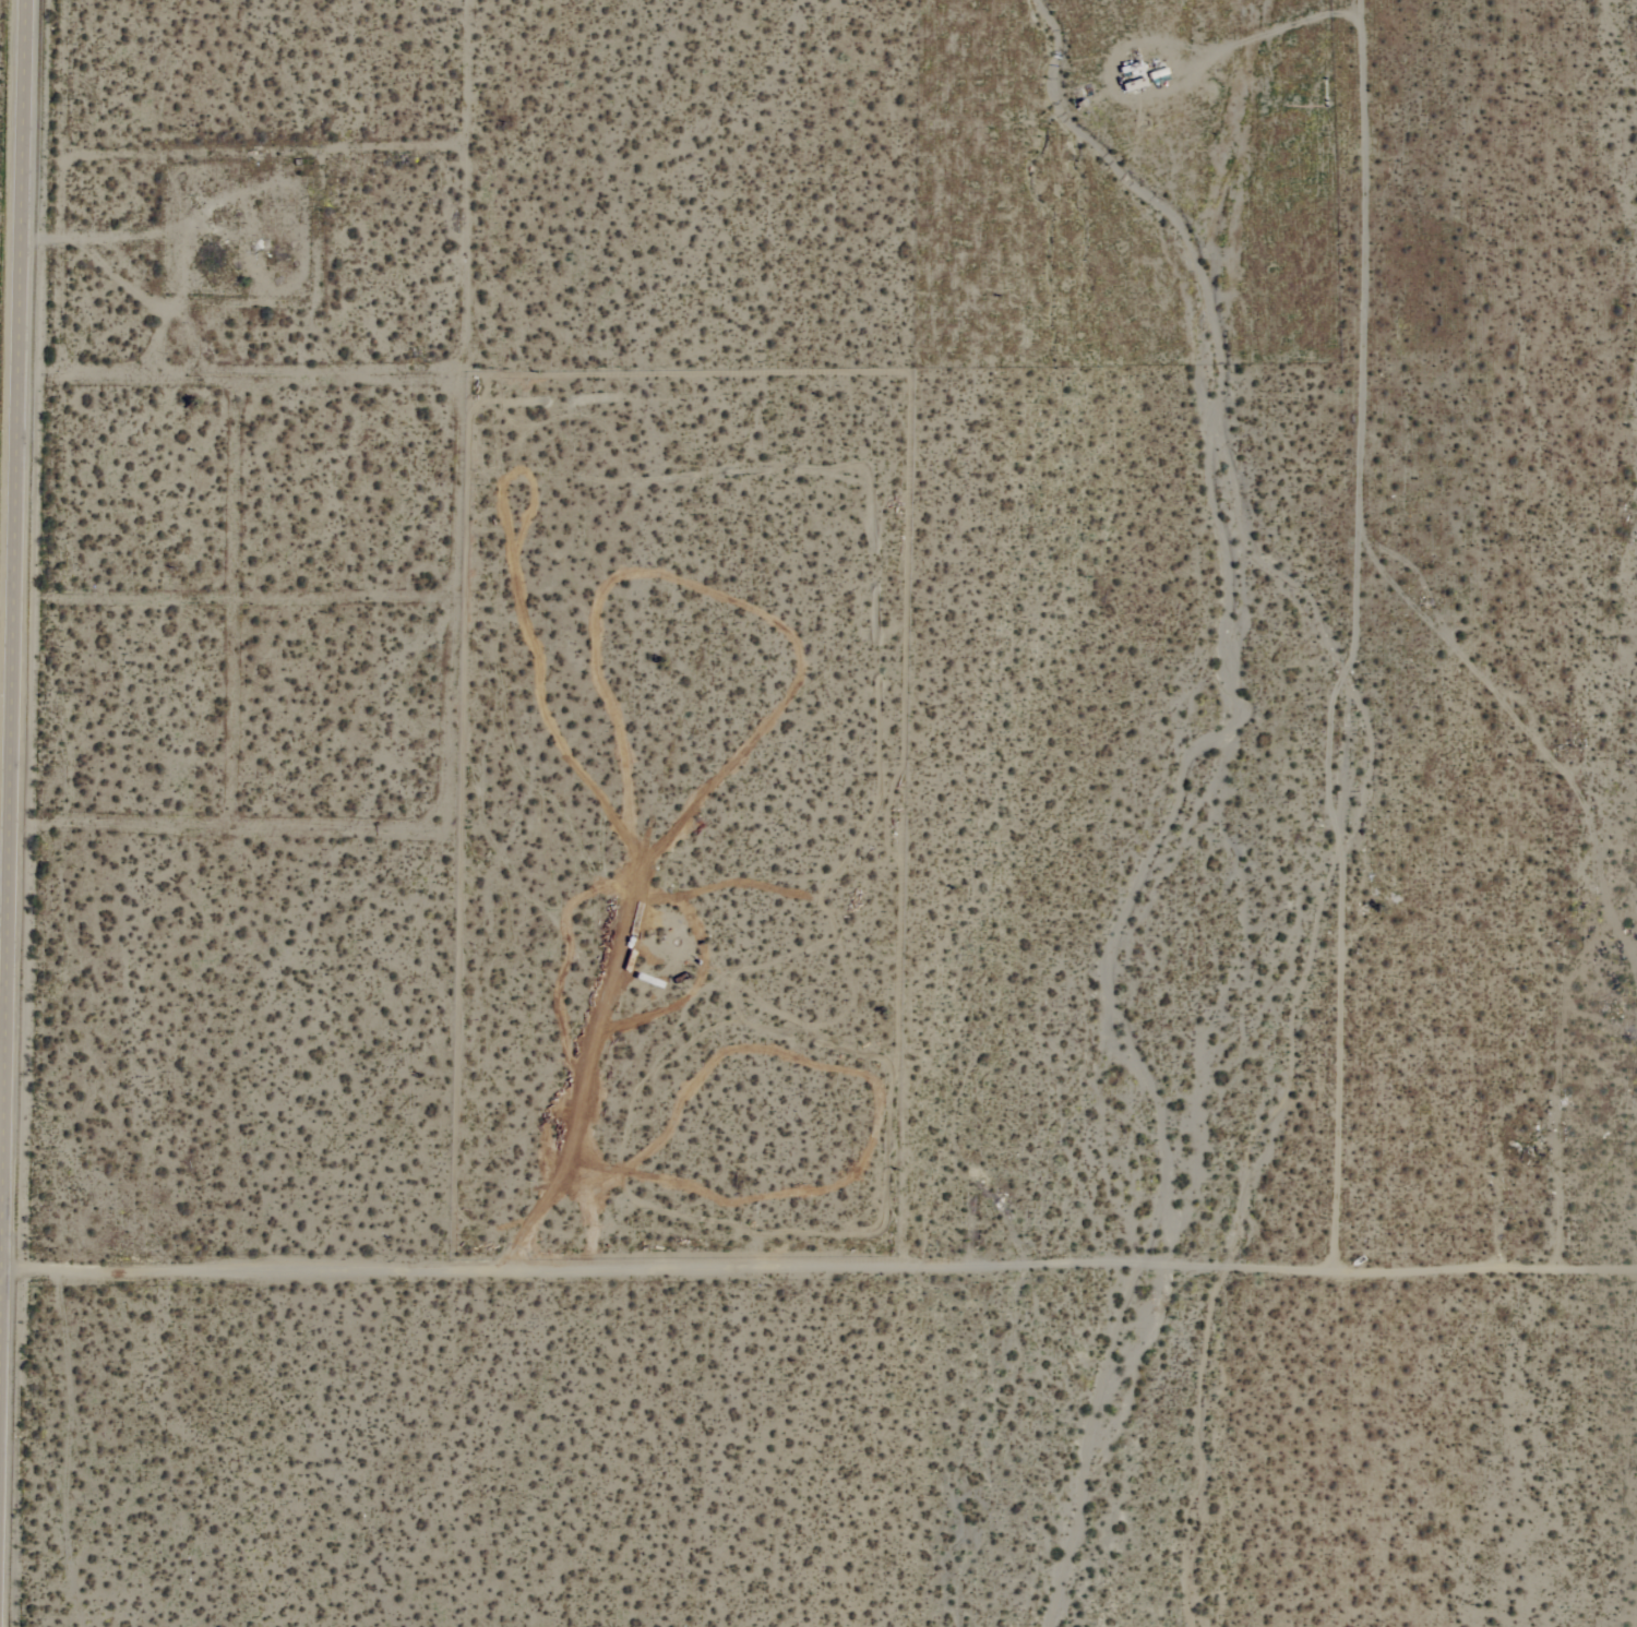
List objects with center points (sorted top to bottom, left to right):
road: (1359, 7)
road: (1270, 31)
road: (11, 460)
road: (3, 593)
road: (818, 1268)

